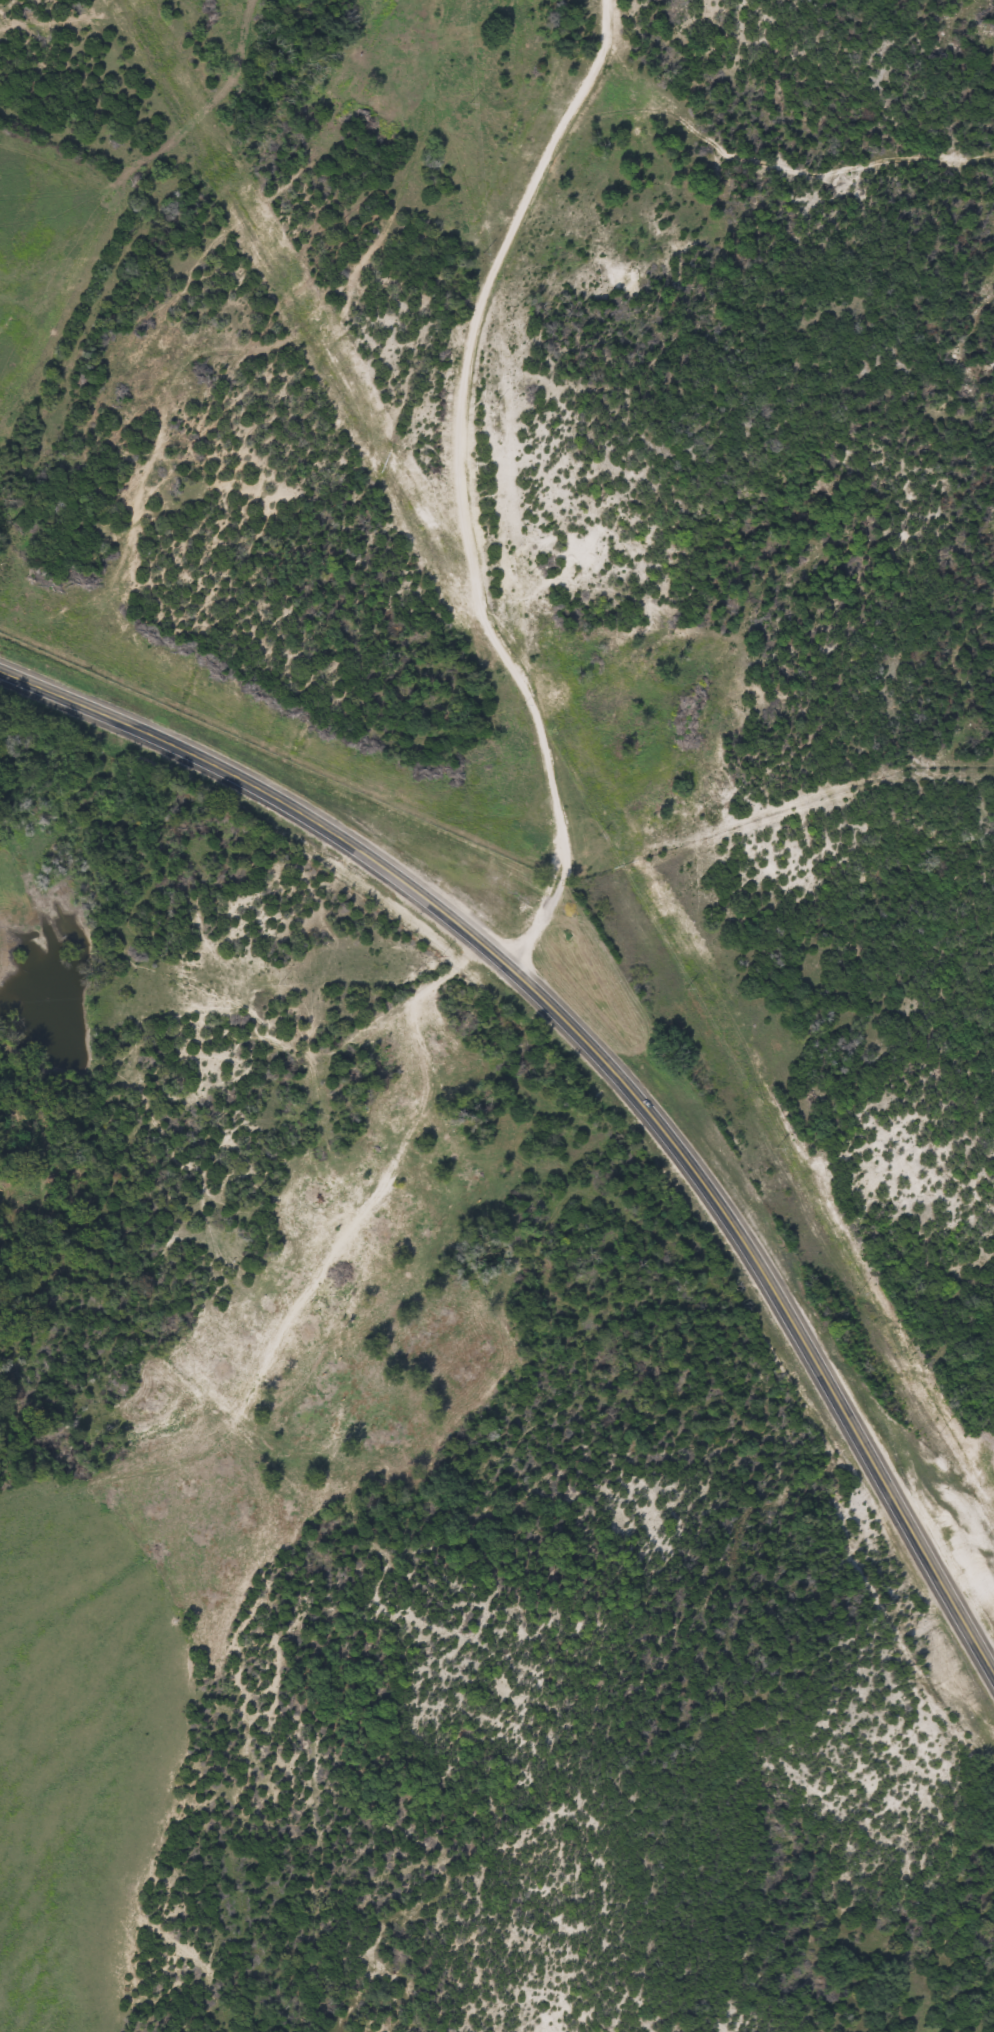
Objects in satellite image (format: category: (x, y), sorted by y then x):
road: (480, 475)
road: (602, 1056)

